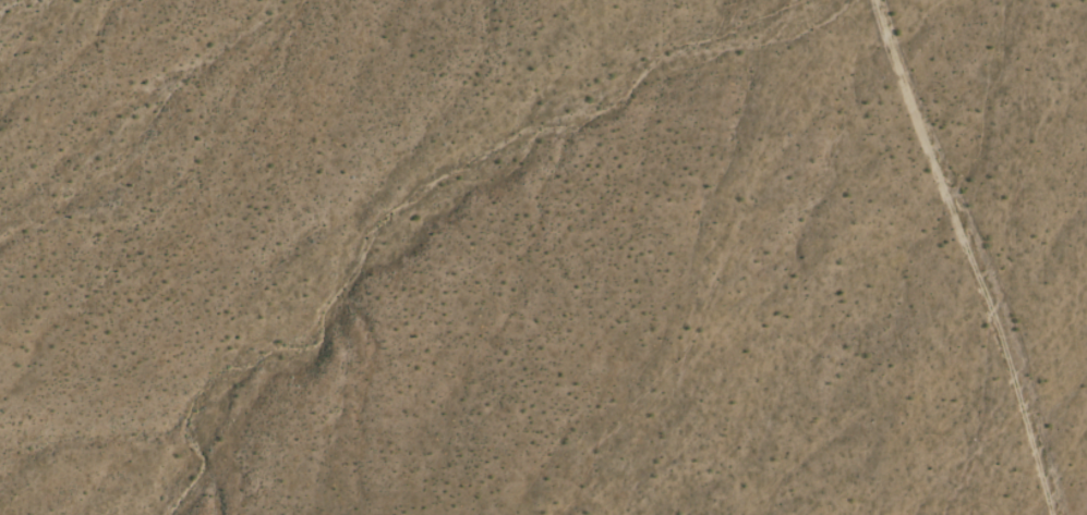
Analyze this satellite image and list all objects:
road: (974, 254)

